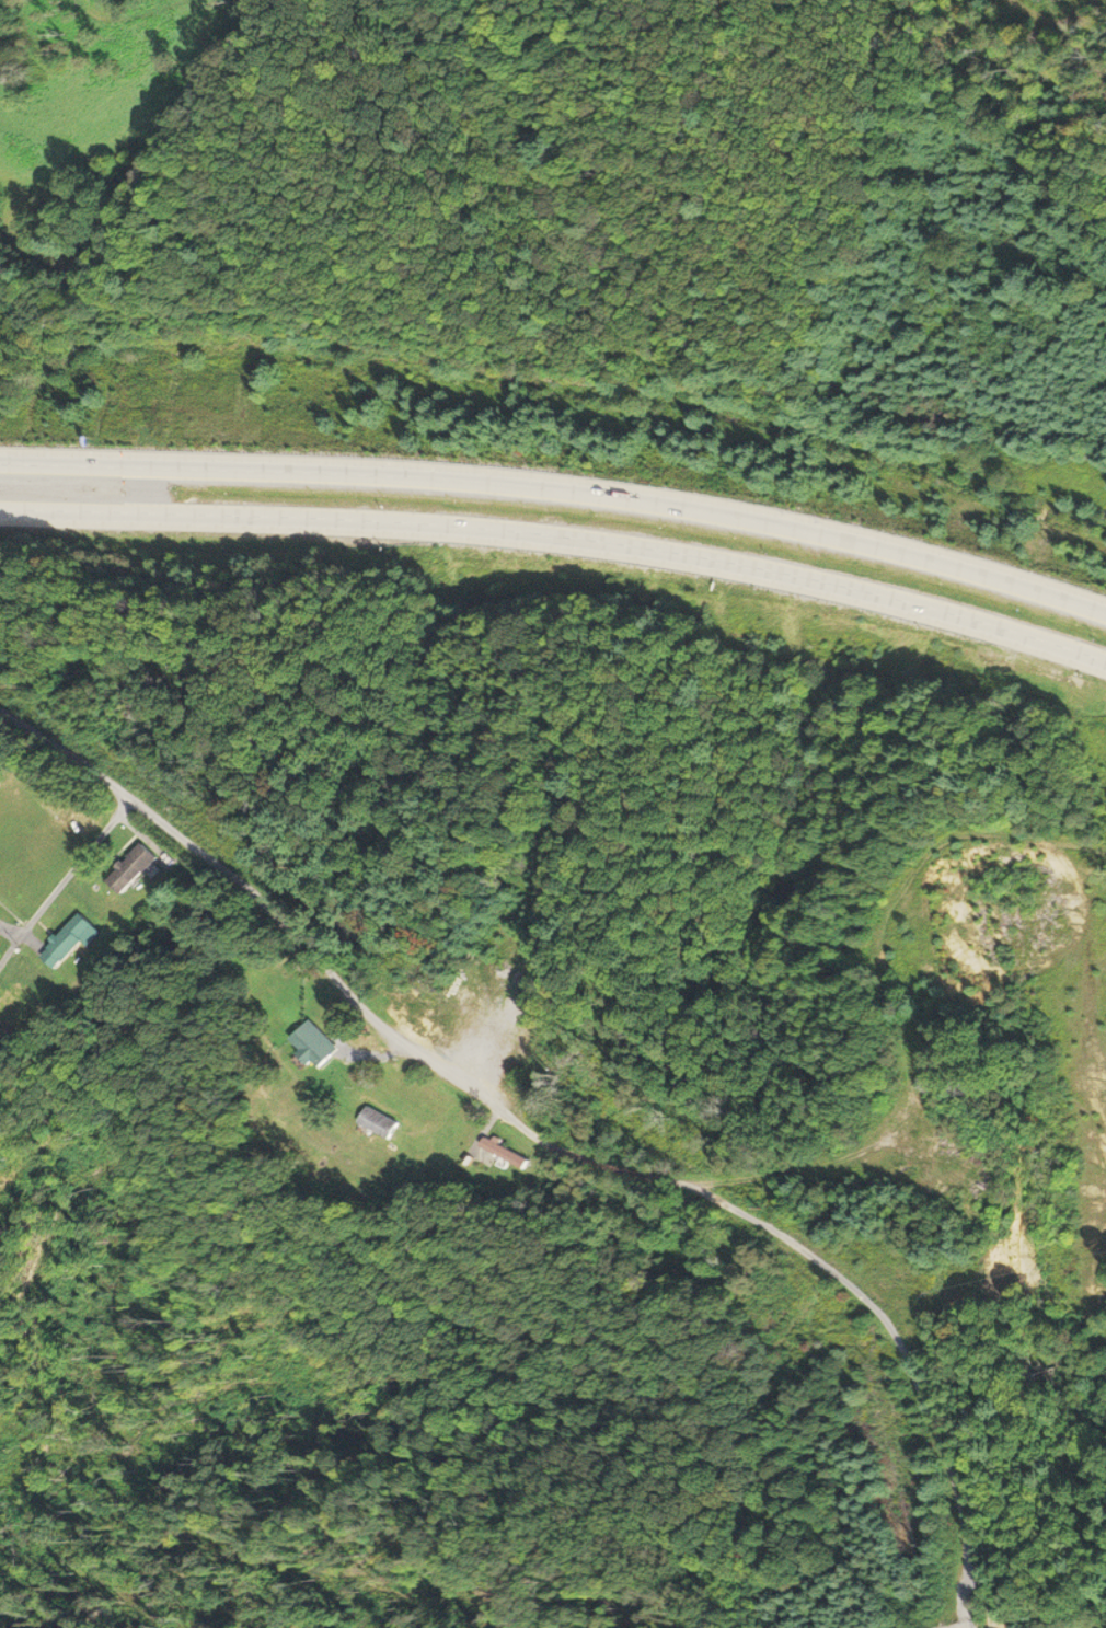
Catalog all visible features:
road: (560, 496)
road: (558, 545)
building: (134, 869)
building: (72, 940)
building: (73, 992)
building: (23, 1009)
building: (314, 1044)
building: (378, 1121)
road: (552, 1142)
building: (504, 1152)

